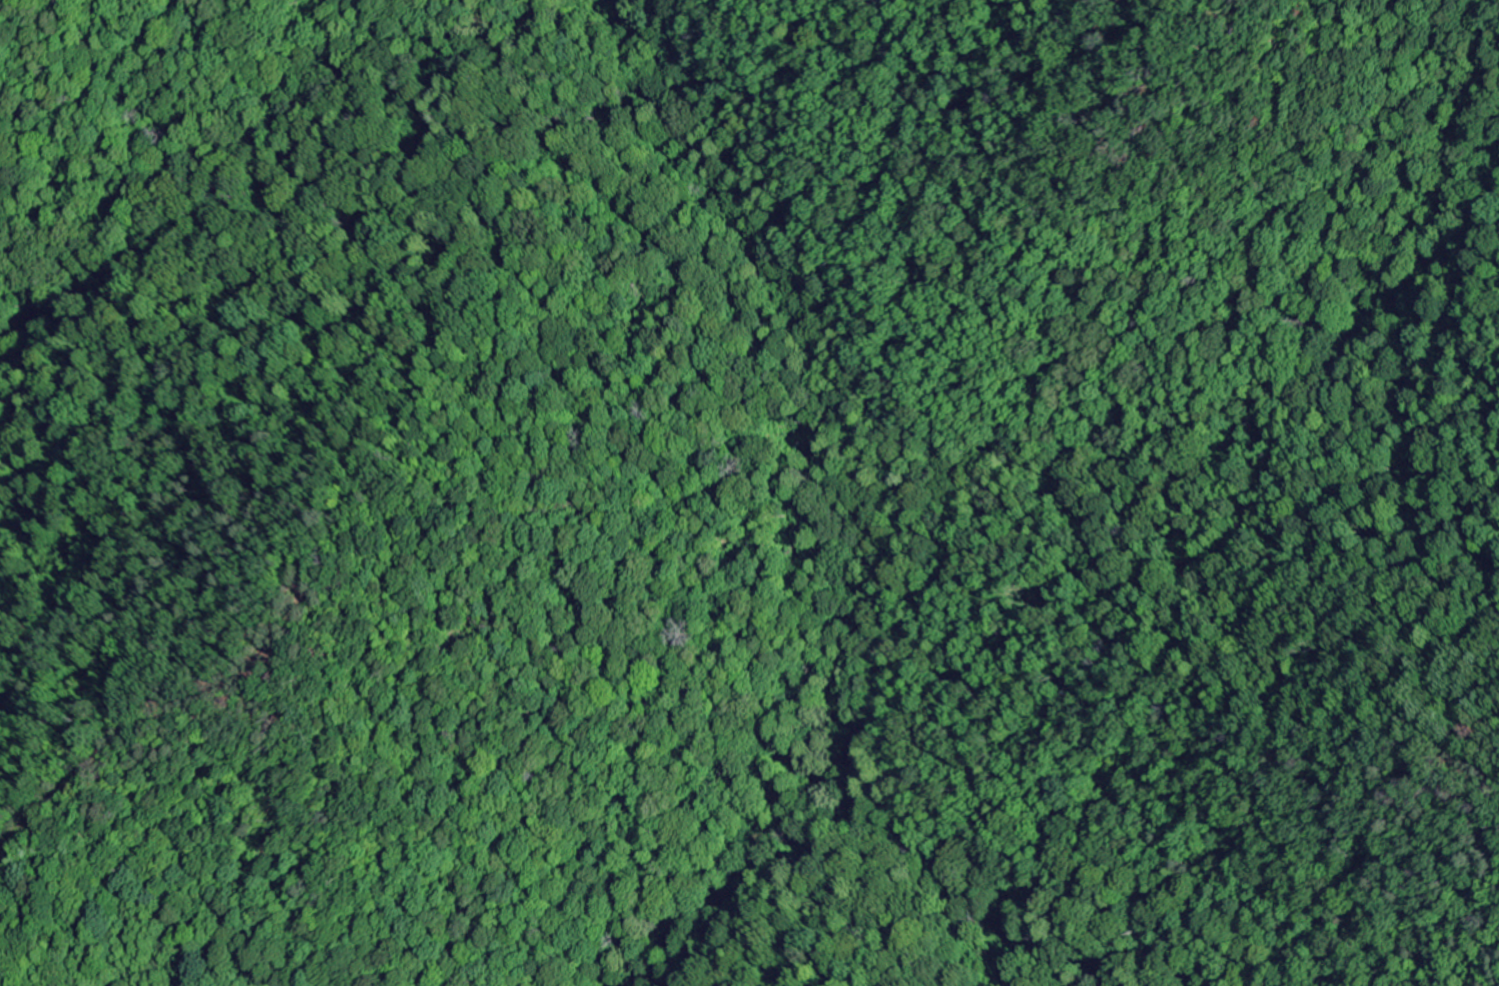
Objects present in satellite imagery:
road: (18, 851)

